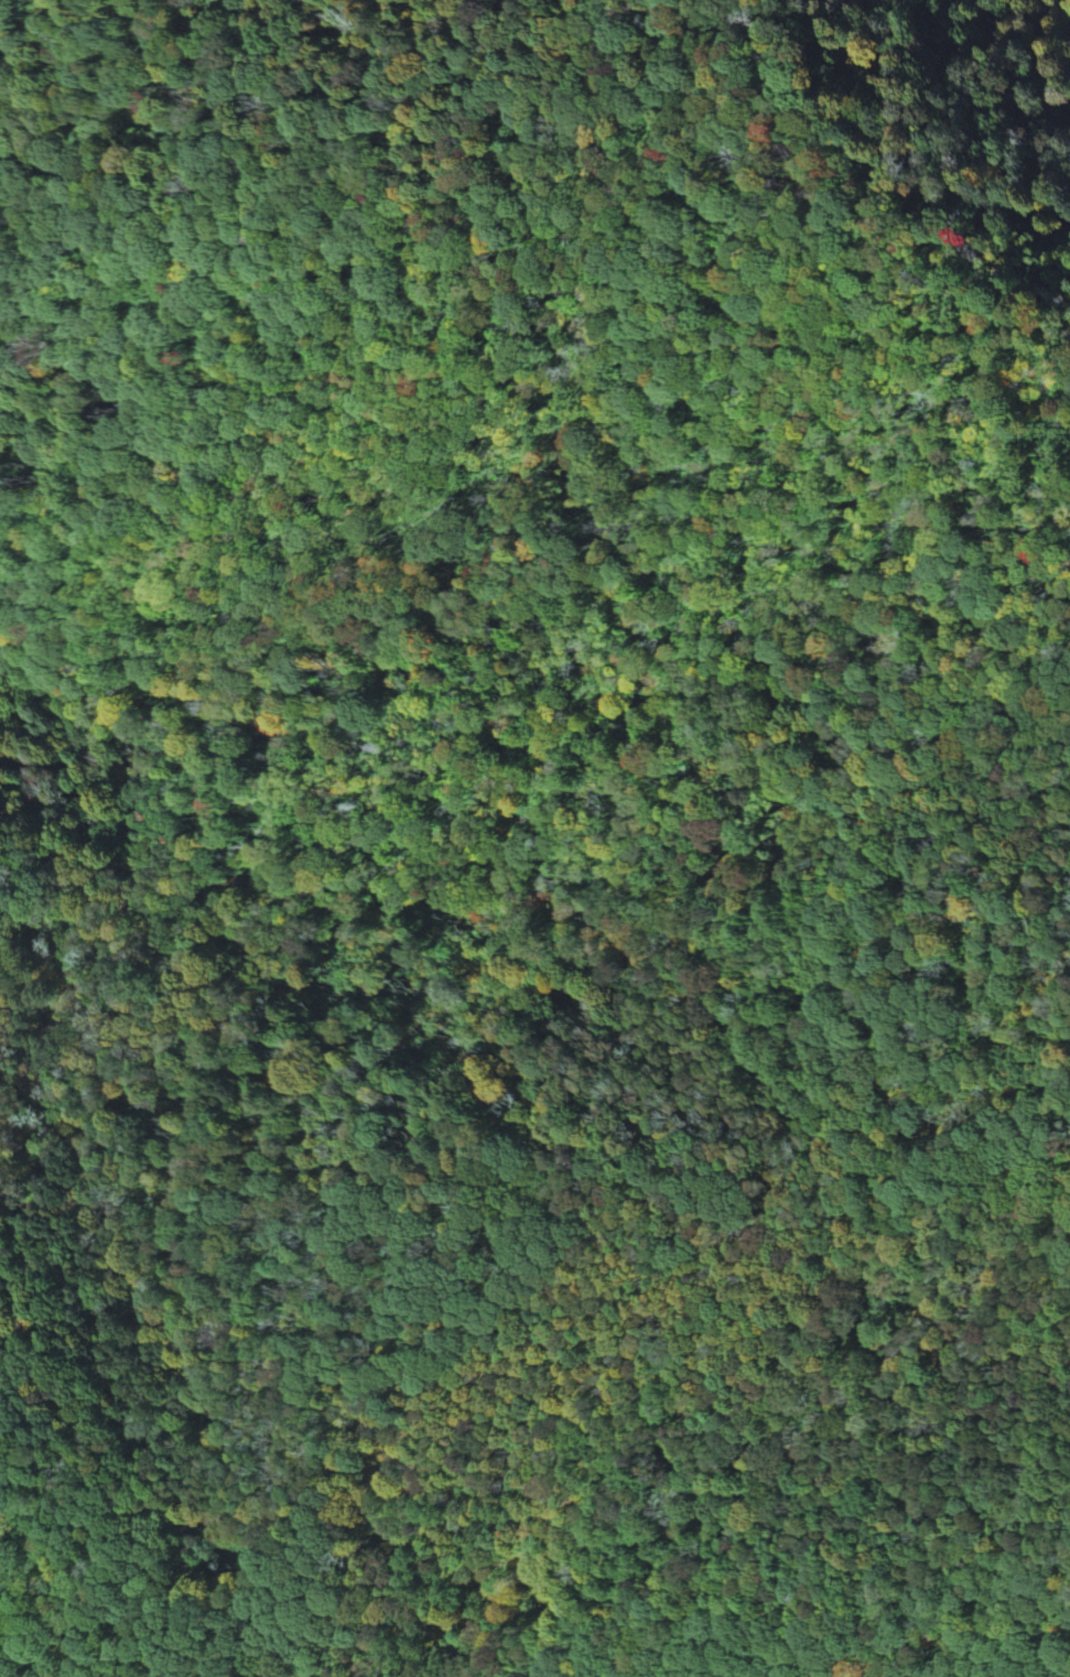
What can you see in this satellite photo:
road: (545, 1241)

